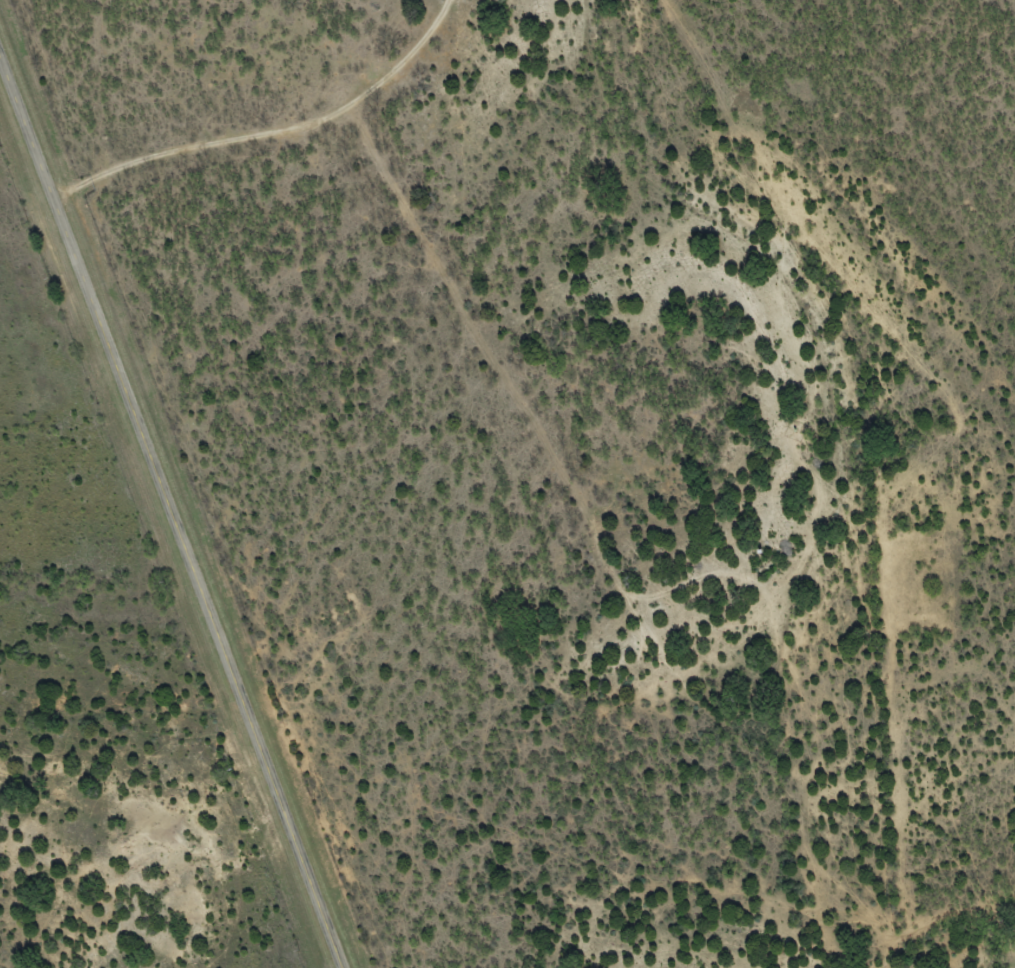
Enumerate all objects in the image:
road: (172, 509)

